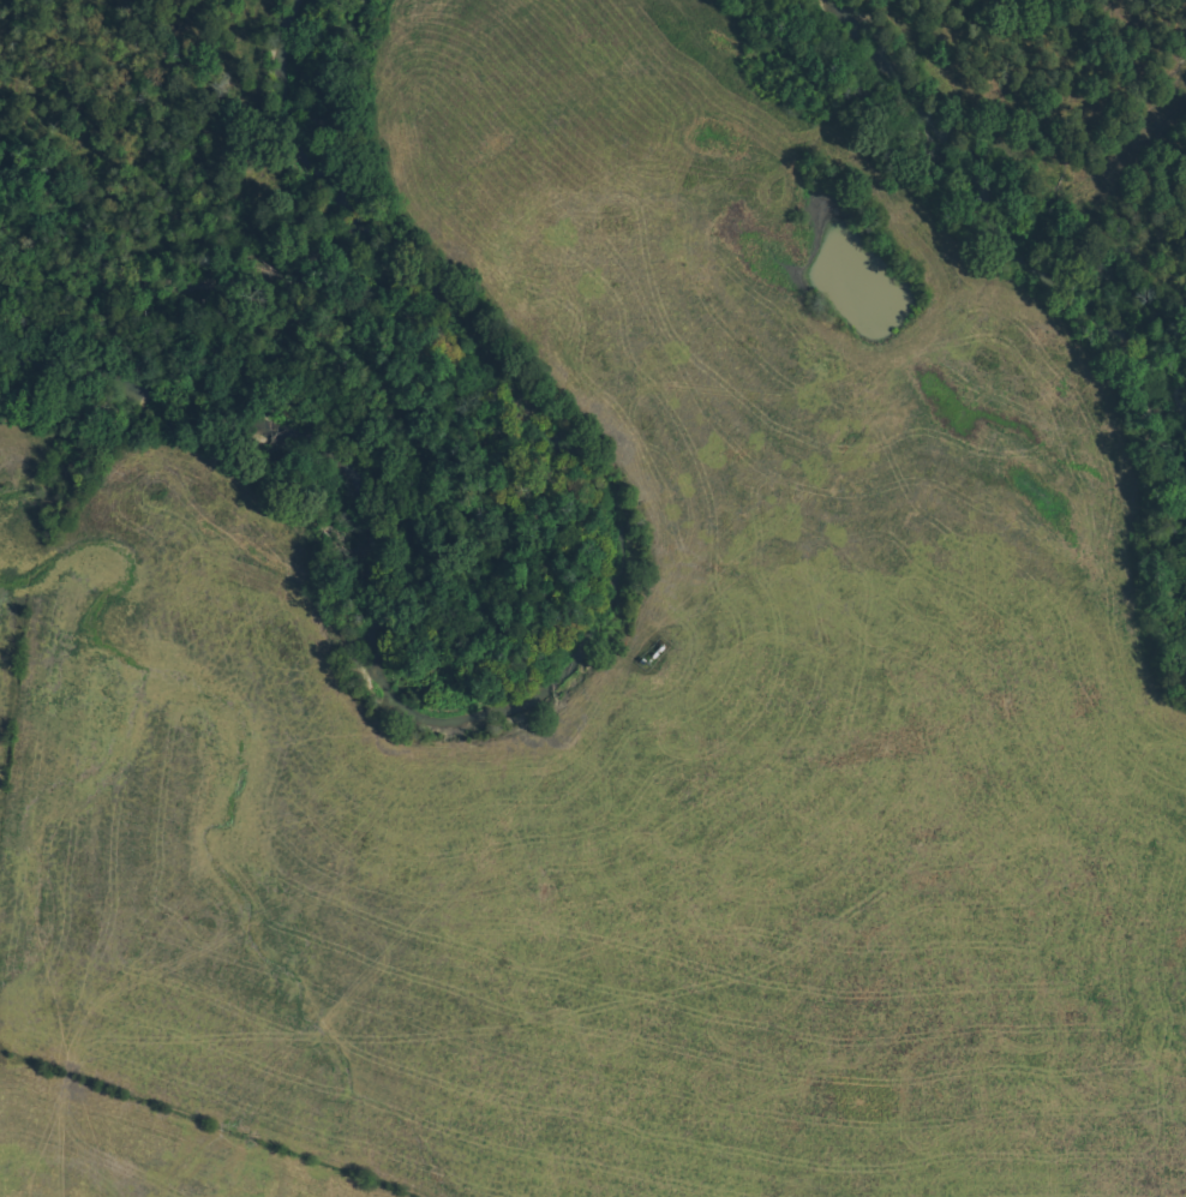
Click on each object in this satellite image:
river: (974, 213)
river: (561, 668)

